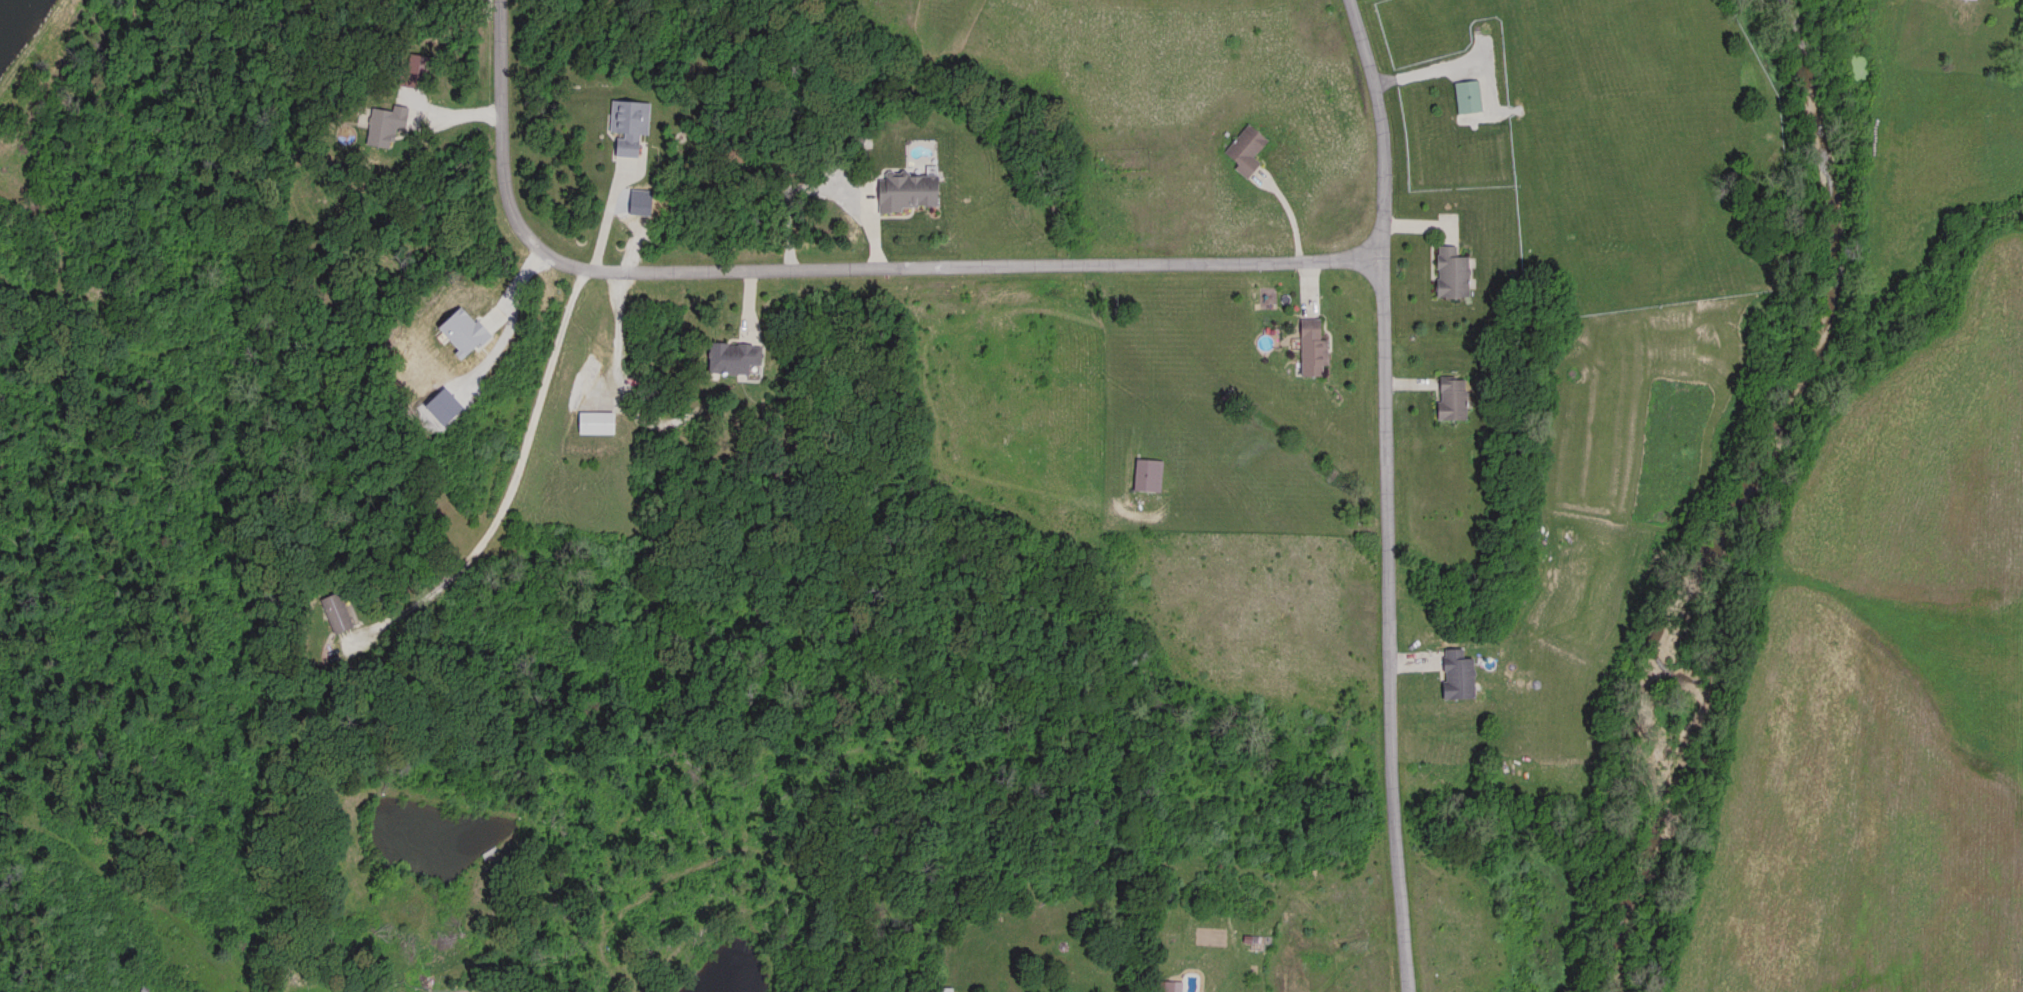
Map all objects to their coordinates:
road: (1454, 61)
building: (1471, 94)
road: (447, 115)
building: (630, 124)
road: (1384, 130)
building: (1249, 148)
road: (821, 187)
building: (914, 188)
road: (608, 214)
road: (1291, 215)
road: (829, 267)
building: (1457, 270)
road: (618, 335)
building: (1316, 344)
building: (736, 354)
building: (1457, 395)
building: (1150, 472)
road: (503, 505)
building: (339, 612)
road: (1389, 629)
building: (1462, 673)

